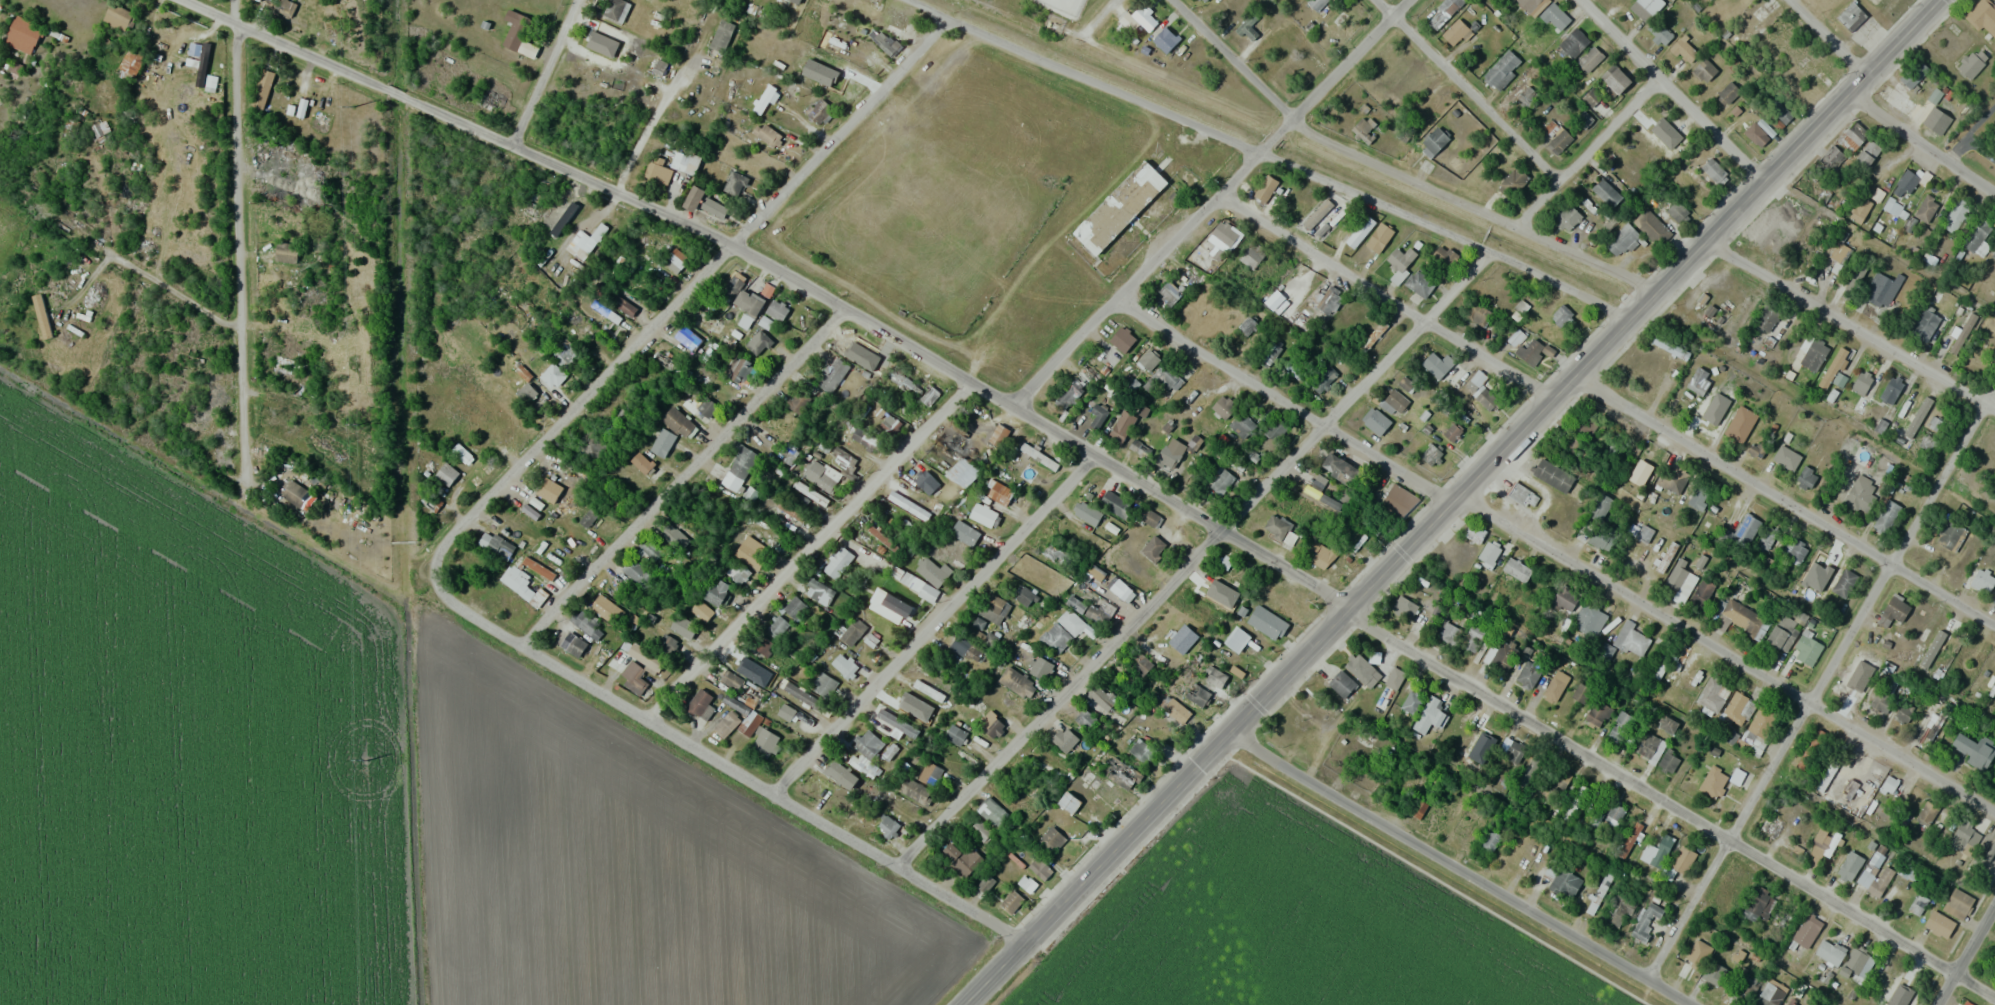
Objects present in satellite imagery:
building: (1204, 0)
building: (1316, 4)
building: (1533, 5)
building: (279, 6)
building: (613, 9)
building: (1753, 10)
building: (1444, 14)
building: (1983, 15)
building: (117, 16)
building: (1145, 16)
building: (1555, 17)
building: (1852, 17)
building: (894, 20)
building: (515, 29)
building: (1249, 32)
building: (1455, 32)
building: (1659, 33)
building: (22, 35)
building: (1164, 39)
road: (1827, 40)
building: (1573, 42)
building: (889, 45)
building: (1684, 50)
road: (1231, 57)
building: (1590, 58)
building: (131, 59)
building: (872, 60)
building: (1973, 62)
building: (202, 64)
building: (1826, 68)
building: (1502, 69)
building: (1704, 69)
road: (544, 75)
building: (1615, 78)
building: (210, 83)
building: (842, 83)
building: (261, 89)
road: (1473, 91)
road: (1674, 92)
building: (1728, 92)
building: (1526, 94)
building: (1591, 97)
building: (1900, 101)
power tower: (354, 107)
building: (818, 110)
building: (1779, 110)
building: (1664, 121)
building: (1856, 133)
building: (1756, 134)
building: (766, 135)
road: (838, 137)
building: (1559, 140)
building: (1433, 141)
road: (1923, 143)
road: (1265, 153)
building: (1868, 153)
road: (1589, 155)
building: (1833, 155)
building: (1713, 169)
building: (659, 173)
building: (310, 176)
building: (1513, 179)
building: (1907, 181)
building: (734, 183)
building: (1265, 188)
building: (1606, 193)
road: (1215, 205)
building: (712, 207)
building: (1119, 207)
building: (1675, 208)
building: (1926, 208)
road: (1472, 209)
building: (1957, 214)
building: (1857, 215)
building: (1568, 218)
building: (1314, 225)
building: (1652, 227)
building: (1225, 233)
building: (1977, 234)
building: (1378, 237)
building: (588, 238)
road: (242, 240)
building: (1622, 240)
building: (1203, 248)
building: (286, 252)
building: (1840, 253)
building: (1252, 255)
building: (1446, 256)
building: (1993, 256)
building: (1401, 259)
building: (675, 260)
road: (140, 271)
road: (779, 276)
building: (1420, 283)
building: (63, 285)
building: (732, 286)
building: (1882, 288)
building: (1169, 293)
building: (309, 296)
building: (1328, 300)
road: (1386, 300)
building: (751, 309)
building: (776, 310)
building: (605, 311)
building: (1561, 316)
building: (1767, 317)
building: (801, 318)
building: (574, 320)
road: (1852, 324)
building: (1925, 324)
building: (1247, 325)
building: (1371, 337)
building: (687, 338)
building: (1121, 339)
building: (758, 342)
building: (1668, 346)
building: (1525, 347)
building: (1269, 353)
building: (1814, 355)
building: (1147, 359)
building: (673, 365)
building: (1292, 366)
building: (1434, 366)
building: (1834, 366)
building: (560, 367)
building: (739, 369)
building: (1083, 373)
building: (832, 374)
building: (1165, 378)
building: (1323, 379)
building: (902, 380)
building: (1699, 380)
building: (1861, 382)
building: (1405, 383)
building: (1891, 389)
building: (523, 390)
building: (930, 393)
road: (1280, 395)
building: (1396, 400)
road: (587, 403)
building: (797, 403)
building: (1910, 405)
building: (706, 406)
building: (1222, 406)
building: (1095, 416)
building: (1712, 419)
building: (887, 420)
building: (677, 421)
building: (1377, 422)
building: (1585, 423)
power tower: (356, 424)
building: (1740, 424)
building: (1242, 425)
building: (1122, 426)
building: (1276, 429)
building: (1451, 432)
building: (999, 434)
building: (865, 440)
building: (956, 441)
building: (660, 442)
building: (1194, 442)
building: (1139, 447)
building: (219, 450)
building: (461, 453)
building: (1431, 454)
building: (1855, 454)
building: (1039, 456)
building: (841, 457)
building: (1167, 458)
building: (1787, 458)
building: (641, 462)
building: (738, 468)
building: (1339, 469)
building: (963, 472)
building: (446, 473)
road: (681, 475)
building: (1553, 475)
building: (1807, 477)
building: (1220, 480)
building: (1676, 481)
building: (925, 482)
building: (548, 489)
building: (998, 492)
building: (1860, 494)
building: (296, 495)
building: (1523, 496)
building: (800, 497)
building: (1321, 497)
building: (1699, 498)
building: (1399, 501)
road: (1784, 501)
building: (1115, 504)
road: (1457, 504)
building: (907, 506)
building: (1601, 507)
building: (1085, 514)
building: (983, 515)
building: (1886, 516)
building: (1149, 517)
building: (587, 518)
building: (1373, 525)
building: (1278, 529)
building: (1745, 530)
building: (964, 533)
building: (1474, 533)
building: (1645, 534)
building: (672, 535)
building: (1354, 536)
building: (1951, 536)
building: (1767, 539)
building: (500, 547)
building: (1153, 548)
building: (650, 549)
building: (750, 550)
road: (804, 551)
building: (1795, 551)
building: (1490, 553)
building: (1056, 554)
building: (1319, 555)
building: (874, 559)
building: (837, 562)
road: (1198, 566)
building: (538, 567)
building: (1811, 567)
building: (1222, 568)
building: (1517, 570)
building: (933, 572)
building: (638, 573)
building: (906, 579)
building: (1983, 579)
building: (1680, 583)
building: (1845, 583)
building: (522, 585)
building: (1115, 586)
building: (716, 591)
building: (818, 591)
building: (1702, 592)
building: (1214, 593)
building: (1026, 596)
building: (1565, 598)
building: (599, 604)
building: (889, 606)
building: (794, 607)
building: (993, 608)
building: (1406, 608)
building: (702, 609)
building: (1893, 611)
building: (1096, 614)
building: (1741, 616)
building: (1589, 620)
building: (1070, 622)
building: (1272, 625)
building: (775, 626)
road: (939, 627)
building: (682, 628)
building: (1452, 629)
building: (853, 632)
building: (1011, 632)
building: (1783, 633)
building: (1055, 637)
building: (1472, 638)
building: (1183, 639)
building: (1632, 639)
building: (1938, 639)
building: (667, 644)
building: (761, 644)
building: (573, 645)
building: (966, 648)
building: (1806, 648)
building: (1606, 650)
building: (646, 656)
building: (1503, 657)
road: (1726, 658)
building: (841, 663)
building: (1142, 664)
building: (743, 667)
building: (1040, 667)
building: (1359, 668)
building: (1215, 673)
building: (1528, 674)
building: (1860, 674)
building: (633, 677)
building: (1394, 678)
building: (731, 681)
building: (1016, 682)
building: (1342, 684)
building: (823, 685)
building: (1554, 689)
road: (1824, 689)
building: (932, 691)
building: (1580, 692)
building: (1712, 693)
building: (1197, 695)
building: (803, 696)
building: (1101, 697)
building: (1412, 701)
building: (1880, 703)
building: (700, 704)
building: (907, 705)
building: (1738, 708)
building: (1175, 710)
building: (1903, 712)
building: (1597, 713)
building: (787, 714)
building: (1430, 714)
building: (1085, 719)
building: (726, 724)
building: (1667, 724)
building: (1926, 724)
building: (991, 725)
building: (1621, 726)
building: (1761, 729)
building: (955, 734)
building: (1064, 739)
building: (765, 741)
building: (1647, 745)
building: (868, 748)
building: (1974, 749)
building: (1141, 750)
building: (890, 751)
building: (1514, 751)
road: (716, 758)
power tower: (365, 760)
building: (1668, 761)
building: (930, 773)
building: (1121, 773)
building: (840, 774)
building: (1560, 779)
building: (1714, 782)
building: (819, 788)
building: (1866, 788)
building: (917, 793)
building: (1107, 793)
building: (1069, 802)
road: (1671, 803)
building: (1418, 808)
building: (992, 811)
building: (1924, 812)
building: (1614, 813)
building: (887, 826)
building: (1767, 827)
building: (979, 829)
building: (1964, 837)
building: (1051, 839)
building: (1662, 847)
building: (1990, 849)
building: (962, 858)
building: (1683, 860)
building: (1850, 865)
road: (1460, 867)
building: (1040, 868)
building: (1875, 876)
building: (985, 883)
building: (1599, 893)
building: (1011, 902)
building: (1918, 902)
building: (1958, 903)
building: (1758, 906)
building: (1617, 911)
building: (1645, 920)
building: (1782, 920)
building: (1939, 924)
building: (1807, 929)
building: (1703, 941)
building: (1829, 952)
road: (1967, 957)
building: (1857, 962)
building: (1715, 974)
building: (1746, 986)
building: (1771, 993)
building: (1902, 996)

